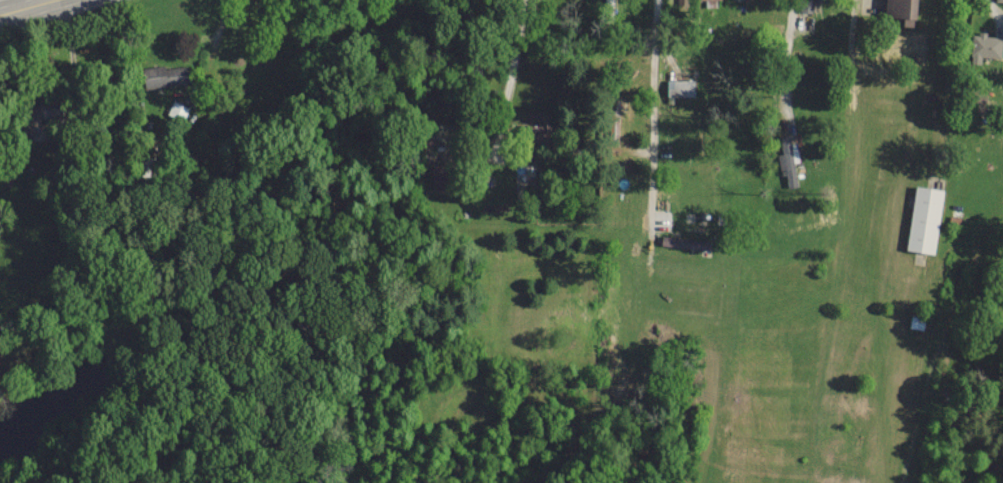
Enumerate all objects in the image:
building: (998, 0)
building: (805, 5)
road: (22, 6)
building: (898, 11)
building: (985, 47)
road: (513, 59)
building: (165, 75)
building: (678, 88)
building: (43, 109)
building: (178, 109)
road: (653, 117)
building: (532, 133)
building: (785, 160)
building: (922, 219)
building: (684, 242)
building: (915, 322)

